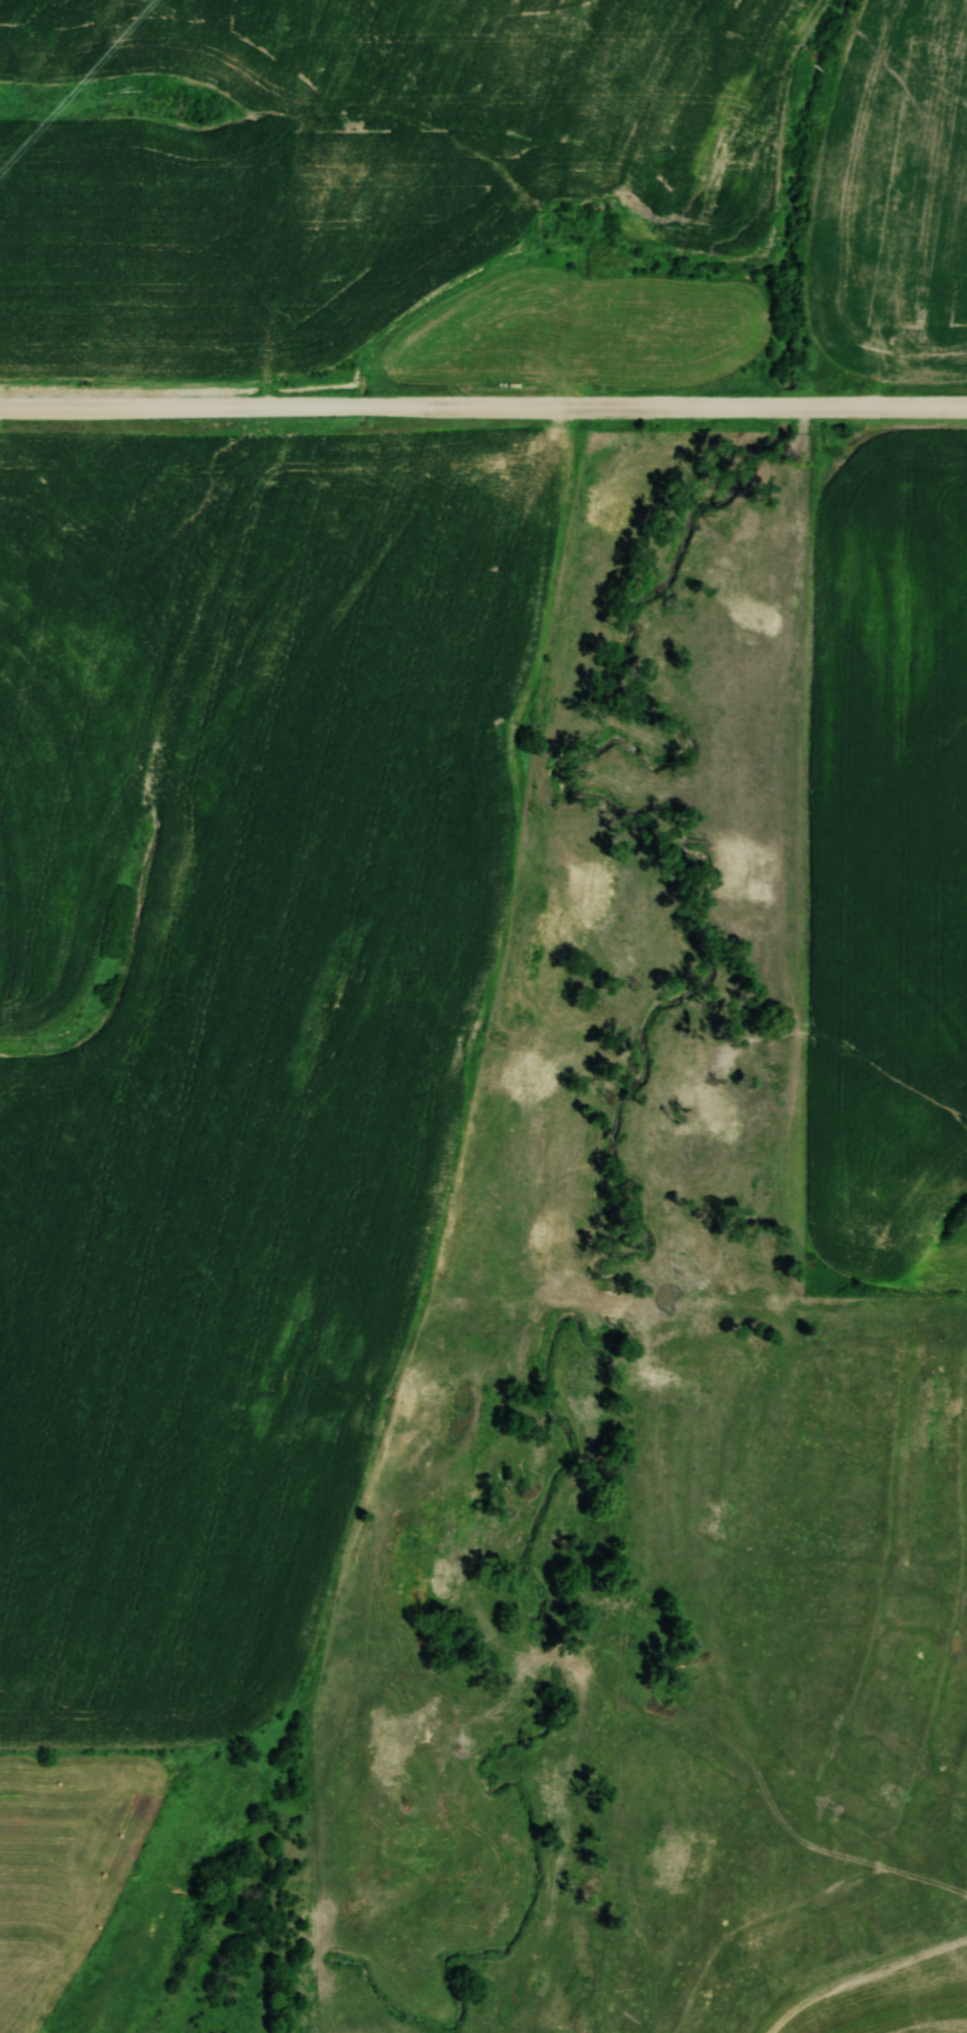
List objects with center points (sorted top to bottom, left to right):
road: (483, 402)

